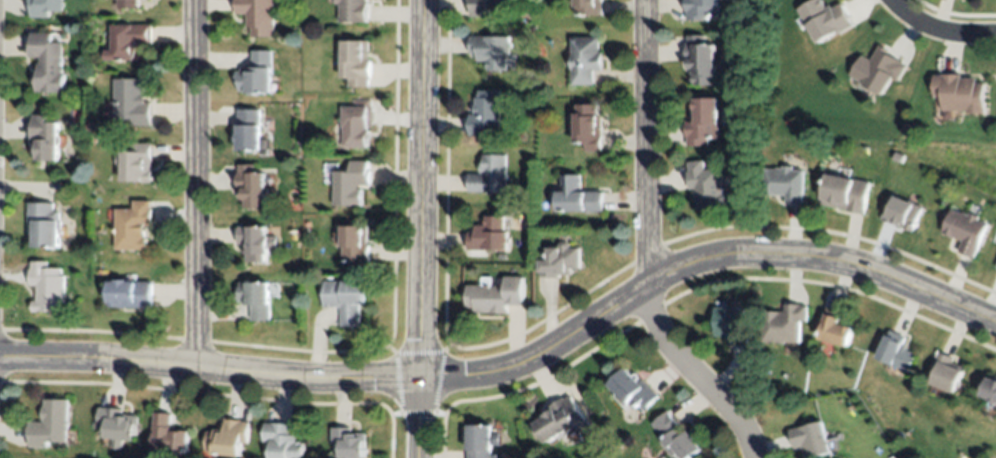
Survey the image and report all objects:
building: (128, 4)
building: (485, 6)
building: (588, 6)
building: (43, 7)
building: (700, 8)
building: (352, 10)
building: (257, 15)
building: (824, 20)
road: (934, 30)
building: (128, 41)
building: (489, 48)
building: (584, 57)
building: (700, 59)
building: (356, 60)
building: (47, 62)
building: (878, 71)
building: (256, 74)
building: (960, 91)
building: (131, 100)
building: (484, 112)
building: (703, 120)
building: (355, 123)
building: (588, 124)
building: (248, 130)
building: (43, 135)
building: (135, 164)
building: (489, 174)
building: (349, 182)
building: (784, 183)
road: (195, 185)
building: (708, 185)
building: (250, 187)
building: (845, 191)
building: (577, 194)
building: (902, 211)
building: (44, 222)
building: (132, 226)
road: (418, 228)
building: (964, 229)
building: (487, 233)
building: (254, 240)
building: (352, 241)
road: (647, 248)
building: (559, 261)
building: (995, 266)
building: (46, 285)
building: (129, 294)
building: (495, 296)
building: (254, 300)
building: (344, 300)
building: (783, 322)
building: (732, 325)
building: (835, 327)
building: (896, 351)
road: (518, 366)
building: (945, 371)
building: (990, 388)
building: (633, 390)
building: (560, 420)
building: (50, 423)
building: (117, 424)
building: (167, 437)
building: (227, 437)
building: (676, 437)
building: (811, 438)
building: (480, 440)
building: (281, 442)
building: (347, 444)

